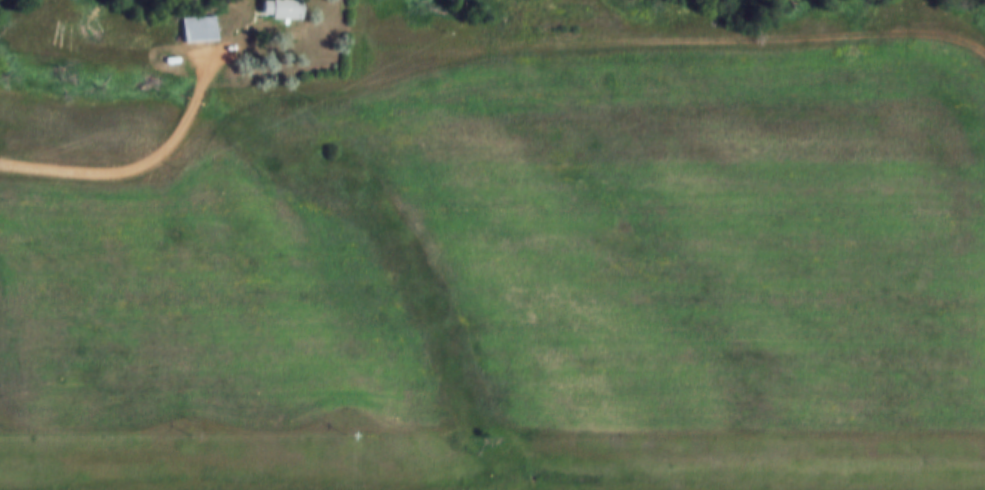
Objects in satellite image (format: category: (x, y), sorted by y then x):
building: (282, 10)
building: (574, 14)
building: (200, 30)
road: (593, 42)
road: (142, 176)

